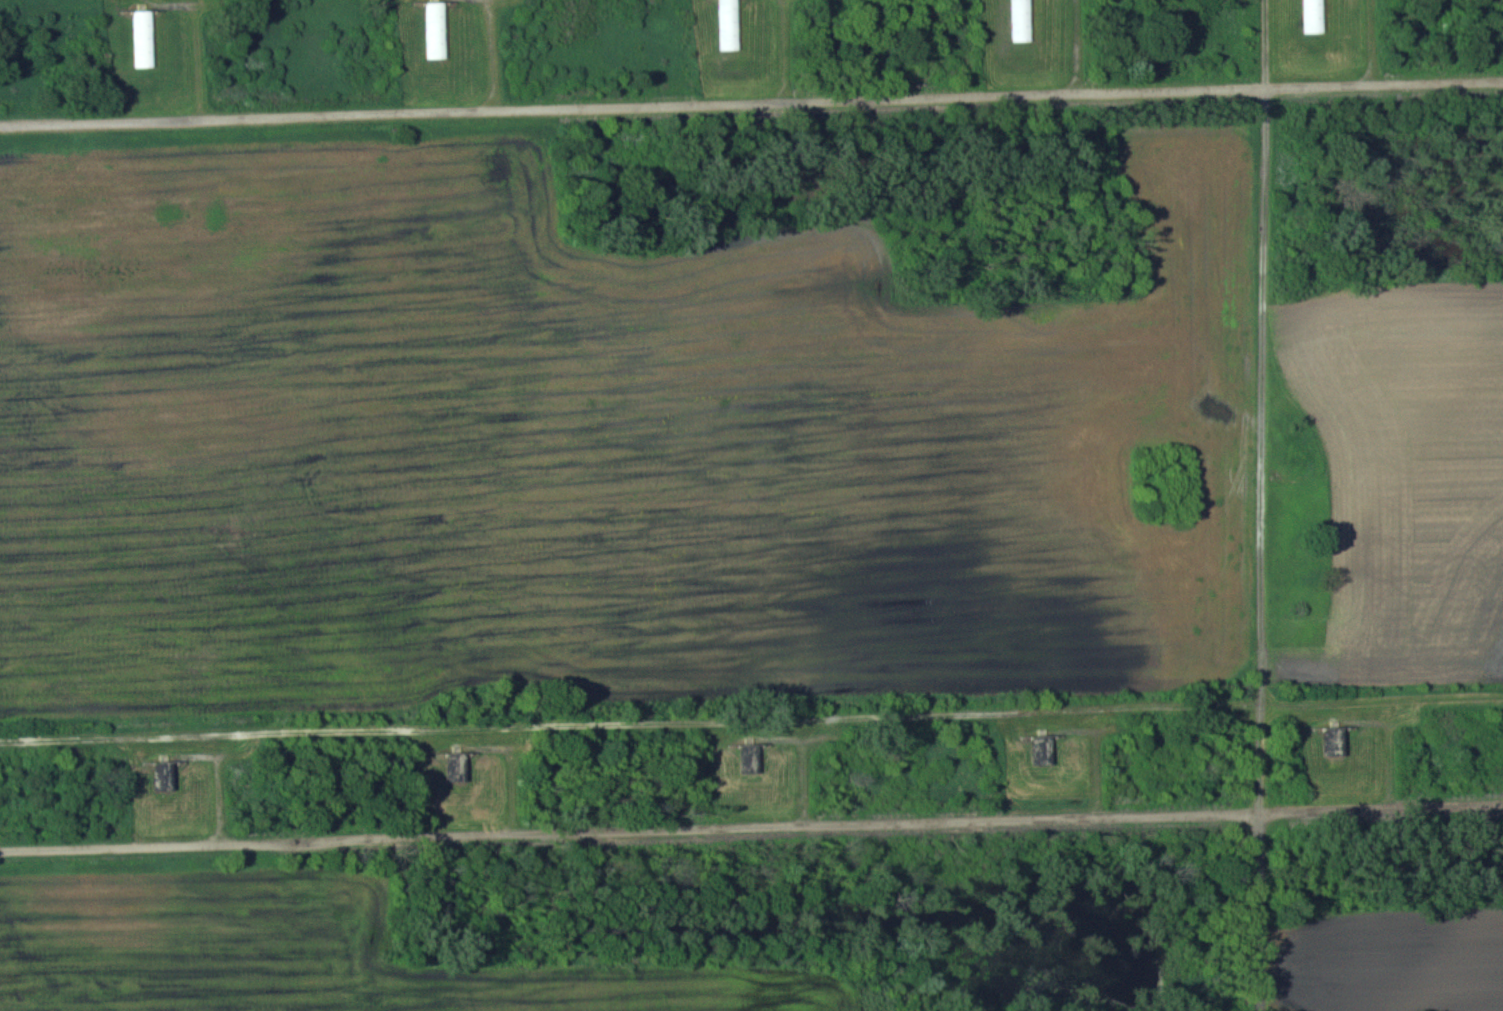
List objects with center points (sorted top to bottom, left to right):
building: (434, 30)
road: (751, 102)
road: (1261, 505)
building: (163, 775)
road: (751, 827)

